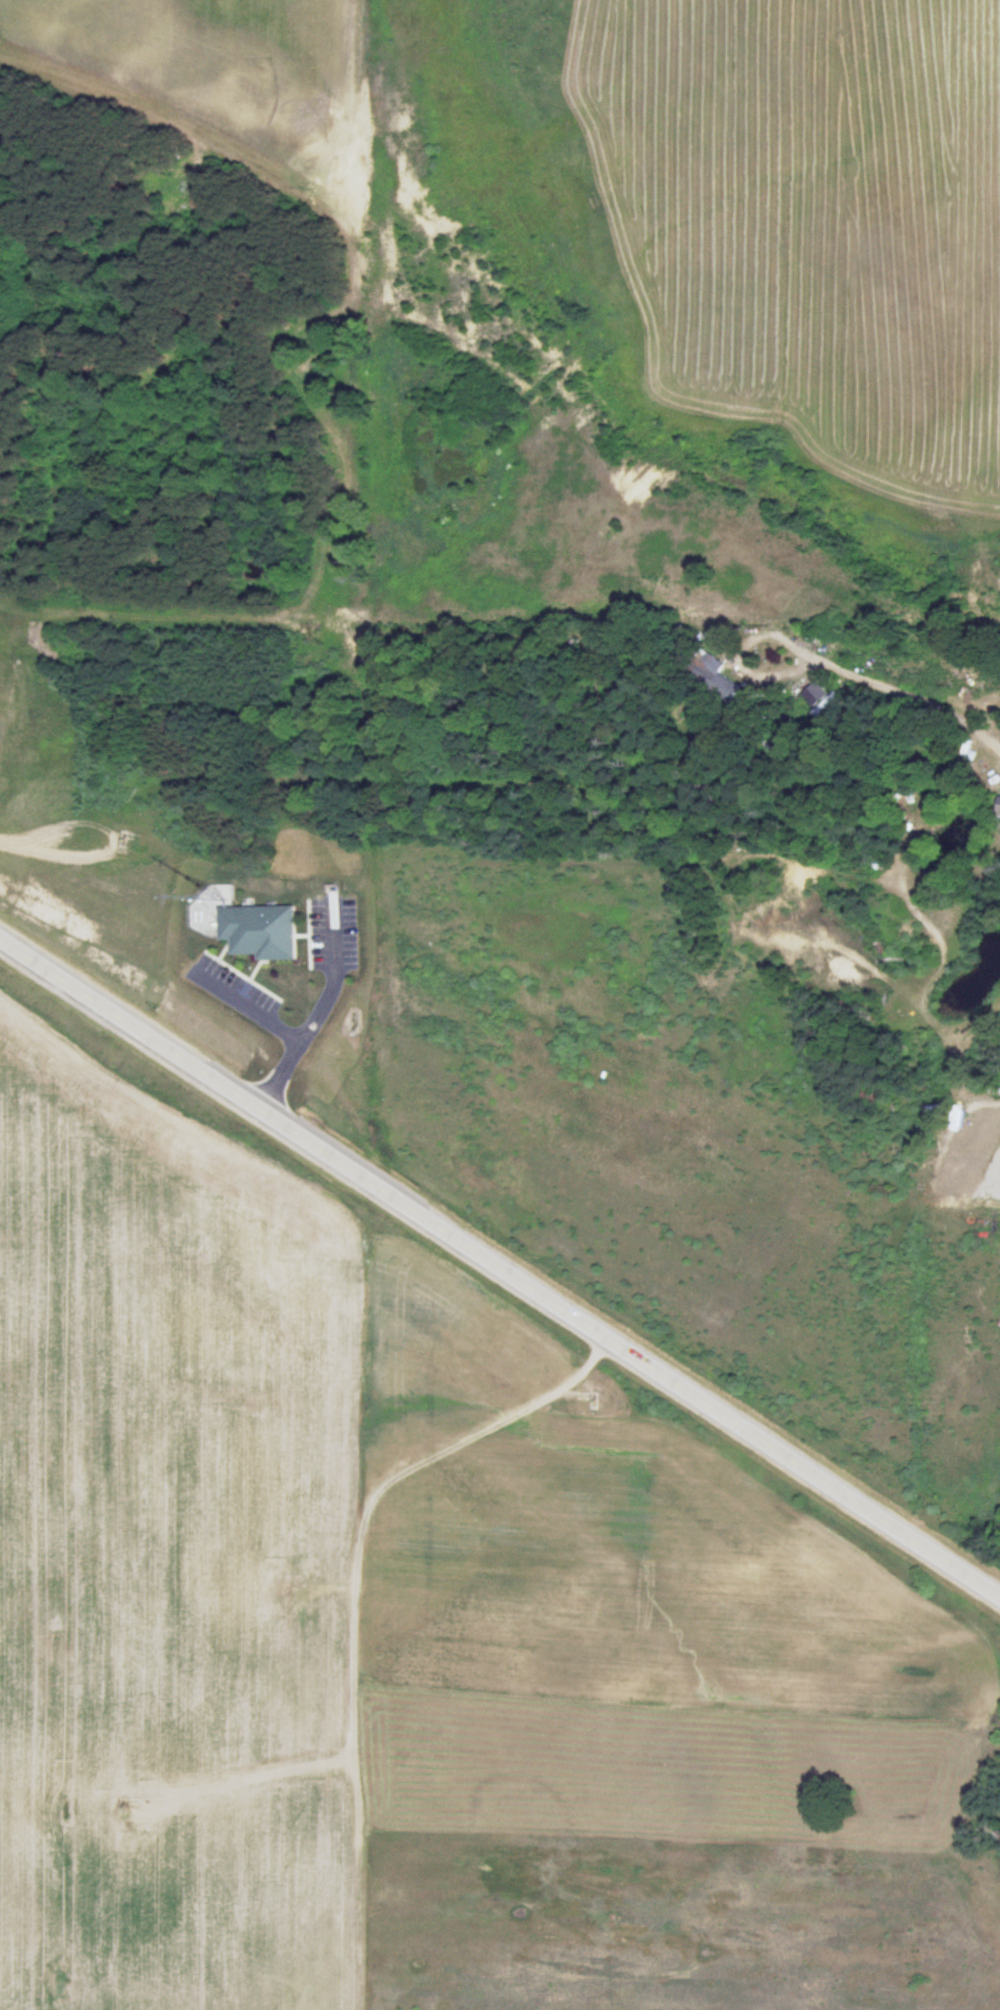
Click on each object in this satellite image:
building: (717, 676)
building: (998, 807)
building: (264, 932)
road: (256, 1011)
road: (320, 1020)
road: (498, 1267)
road: (359, 1602)

